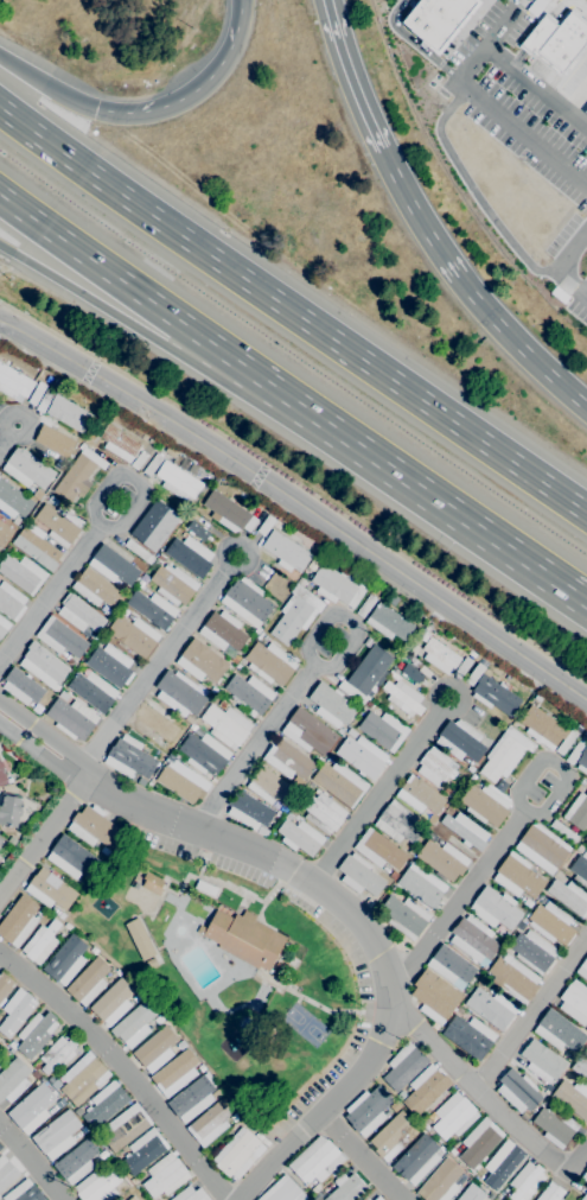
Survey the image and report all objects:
road: (486, 1)
road: (564, 1)
road: (563, 2)
road: (515, 5)
road: (517, 5)
building: (535, 6)
road: (578, 13)
road: (537, 14)
building: (435, 19)
road: (465, 30)
road: (535, 34)
building: (555, 39)
road: (415, 43)
road: (515, 58)
road: (438, 63)
road: (545, 65)
road: (570, 65)
road: (347, 76)
road: (46, 84)
road: (194, 88)
road: (535, 90)
road: (574, 99)
road: (485, 108)
traffic signals: (96, 109)
building: (585, 110)
gas station: (585, 110)
road: (472, 192)
road: (559, 264)
road: (117, 279)
road: (467, 291)
road: (292, 311)
road: (114, 313)
building: (13, 383)
building: (36, 393)
building: (44, 400)
building: (69, 413)
road: (8, 438)
building: (151, 440)
building: (52, 443)
building: (119, 443)
building: (171, 451)
building: (139, 459)
building: (57, 464)
building: (152, 464)
building: (27, 468)
building: (78, 475)
road: (130, 480)
road: (411, 480)
building: (178, 481)
building: (13, 500)
building: (52, 500)
road: (298, 504)
building: (225, 512)
building: (17, 521)
road: (296, 522)
building: (59, 523)
building: (250, 523)
building: (276, 523)
building: (154, 525)
building: (266, 525)
building: (196, 529)
building: (5, 532)
building: (37, 546)
building: (138, 551)
building: (285, 551)
building: (190, 554)
building: (160, 558)
building: (117, 563)
building: (21, 573)
building: (173, 584)
building: (337, 586)
building: (96, 589)
road: (49, 595)
building: (245, 599)
building: (11, 601)
building: (365, 604)
building: (152, 609)
building: (79, 614)
building: (295, 614)
building: (388, 622)
building: (4, 626)
building: (223, 631)
building: (133, 634)
building: (60, 637)
building: (440, 655)
building: (200, 661)
road: (155, 662)
building: (269, 662)
building: (42, 664)
building: (110, 665)
building: (462, 667)
building: (369, 668)
building: (411, 673)
building: (474, 673)
road: (299, 682)
building: (21, 686)
building: (92, 690)
building: (179, 693)
building: (249, 693)
building: (495, 694)
building: (403, 696)
building: (369, 703)
building: (223, 704)
building: (331, 705)
building: (71, 717)
building: (189, 719)
building: (155, 724)
building: (226, 725)
building: (548, 728)
building: (383, 729)
building: (308, 732)
building: (351, 732)
building: (585, 732)
road: (44, 734)
building: (460, 741)
road: (39, 753)
building: (204, 753)
building: (505, 754)
building: (362, 756)
building: (129, 757)
building: (572, 757)
building: (288, 760)
building: (433, 766)
building: (5, 776)
building: (181, 781)
building: (340, 782)
building: (274, 786)
road: (381, 791)
building: (419, 795)
building: (485, 804)
building: (9, 808)
building: (249, 811)
building: (578, 811)
building: (323, 812)
building: (291, 814)
building: (397, 823)
building: (94, 827)
building: (465, 830)
building: (563, 831)
road: (43, 836)
road: (503, 836)
building: (300, 837)
building: (586, 837)
building: (1, 839)
building: (542, 847)
building: (378, 849)
building: (104, 851)
building: (72, 858)
building: (442, 859)
building: (580, 864)
building: (359, 875)
building: (517, 876)
building: (81, 881)
building: (152, 883)
building: (135, 884)
building: (421, 884)
building: (205, 888)
building: (50, 889)
building: (569, 896)
building: (495, 908)
building: (406, 915)
building: (18, 921)
building: (550, 923)
road: (366, 933)
building: (243, 938)
building: (140, 939)
building: (473, 939)
building: (40, 942)
building: (532, 951)
building: (65, 960)
building: (151, 963)
building: (451, 965)
building: (582, 969)
building: (276, 970)
building: (513, 978)
building: (88, 980)
building: (5, 986)
building: (434, 996)
building: (114, 998)
building: (575, 1002)
building: (491, 1008)
building: (15, 1011)
road: (531, 1011)
park: (305, 1024)
building: (132, 1026)
building: (586, 1029)
building: (559, 1031)
building: (36, 1034)
building: (470, 1036)
building: (1, 1046)
building: (155, 1046)
building: (58, 1054)
building: (568, 1055)
building: (542, 1061)
building: (403, 1066)
building: (580, 1067)
road: (121, 1069)
building: (174, 1073)
building: (83, 1078)
building: (13, 1079)
building: (56, 1084)
building: (548, 1087)
building: (425, 1088)
building: (518, 1091)
road: (480, 1093)
building: (401, 1096)
building: (572, 1097)
building: (191, 1099)
building: (545, 1101)
building: (106, 1104)
building: (395, 1106)
building: (31, 1109)
building: (369, 1111)
building: (453, 1116)
building: (524, 1116)
building: (432, 1117)
building: (210, 1122)
building: (555, 1125)
building: (126, 1126)
building: (430, 1132)
building: (56, 1135)
building: (391, 1136)
building: (479, 1142)
building: (0, 1147)
building: (143, 1150)
building: (453, 1151)
building: (102, 1154)
building: (238, 1154)
road: (361, 1157)
road: (579, 1158)
building: (315, 1160)
building: (416, 1160)
building: (76, 1162)
road: (30, 1163)
building: (502, 1164)
building: (6, 1173)
building: (165, 1175)
building: (585, 1176)
building: (126, 1179)
building: (440, 1181)
building: (525, 1181)
building: (97, 1186)
building: (346, 1188)
building: (315, 1189)
building: (282, 1191)
building: (24, 1192)
building: (550, 1192)
building: (471, 1193)
building: (190, 1194)
building: (585, 1196)
building: (132, 1198)
building: (377, 1198)
building: (119, 1199)
building: (365, 1199)

